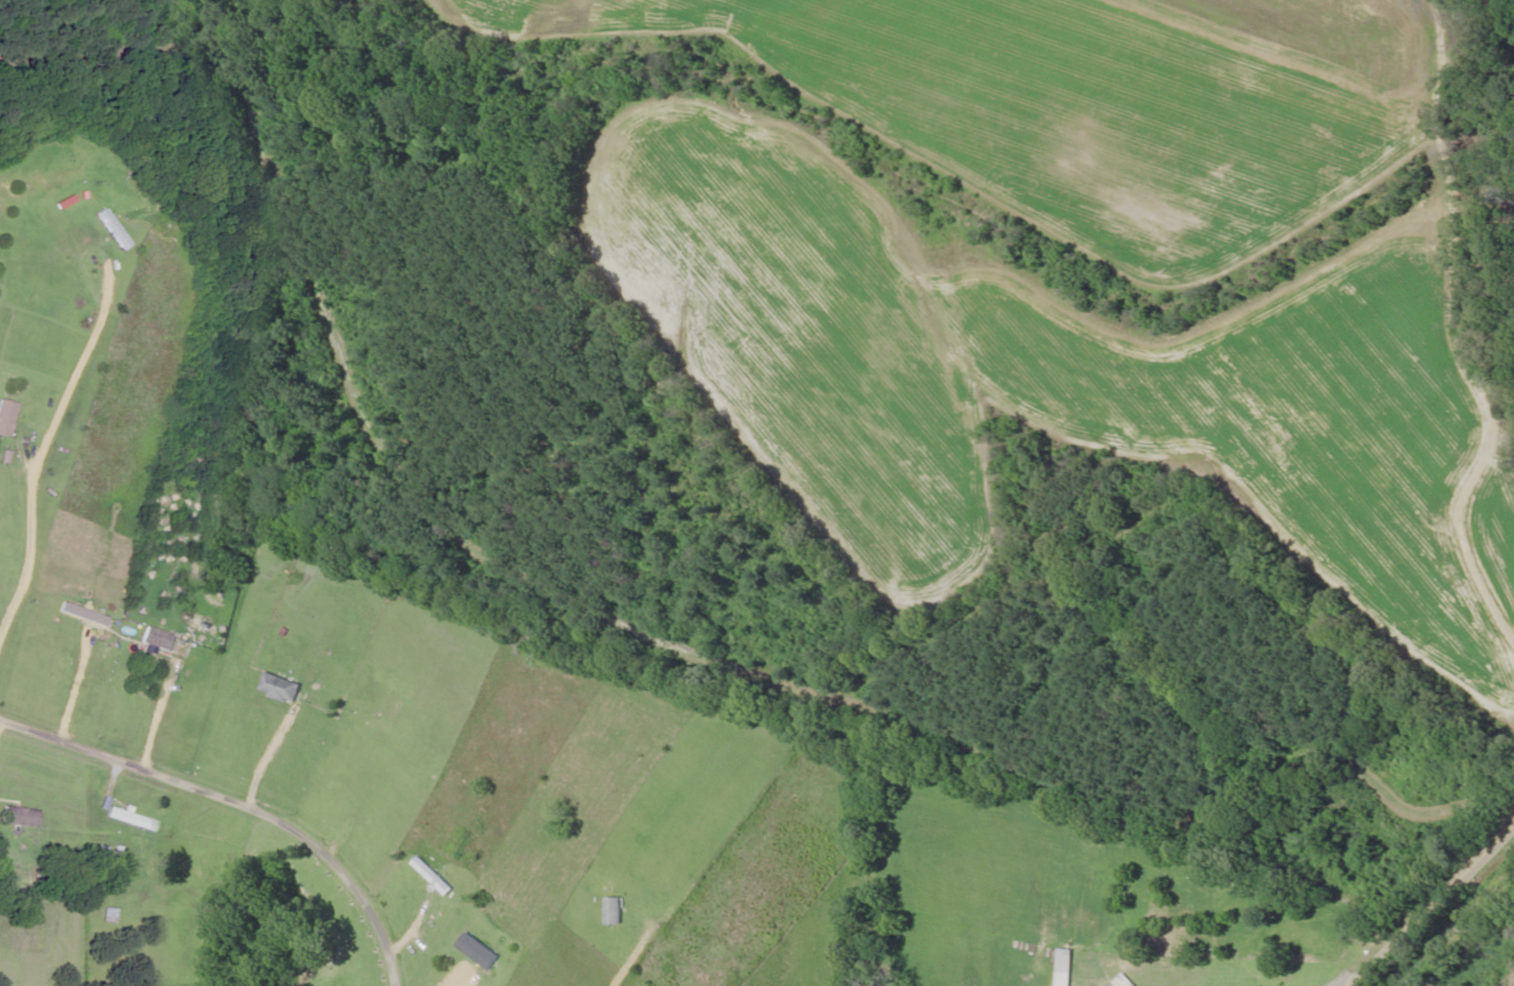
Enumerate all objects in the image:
building: (114, 229)
road: (1504, 409)
building: (7, 417)
building: (85, 614)
building: (160, 641)
building: (282, 688)
building: (20, 817)
building: (132, 820)
building: (435, 877)
road: (1435, 905)
building: (616, 912)
building: (480, 952)
building: (1066, 967)
building: (1125, 981)

